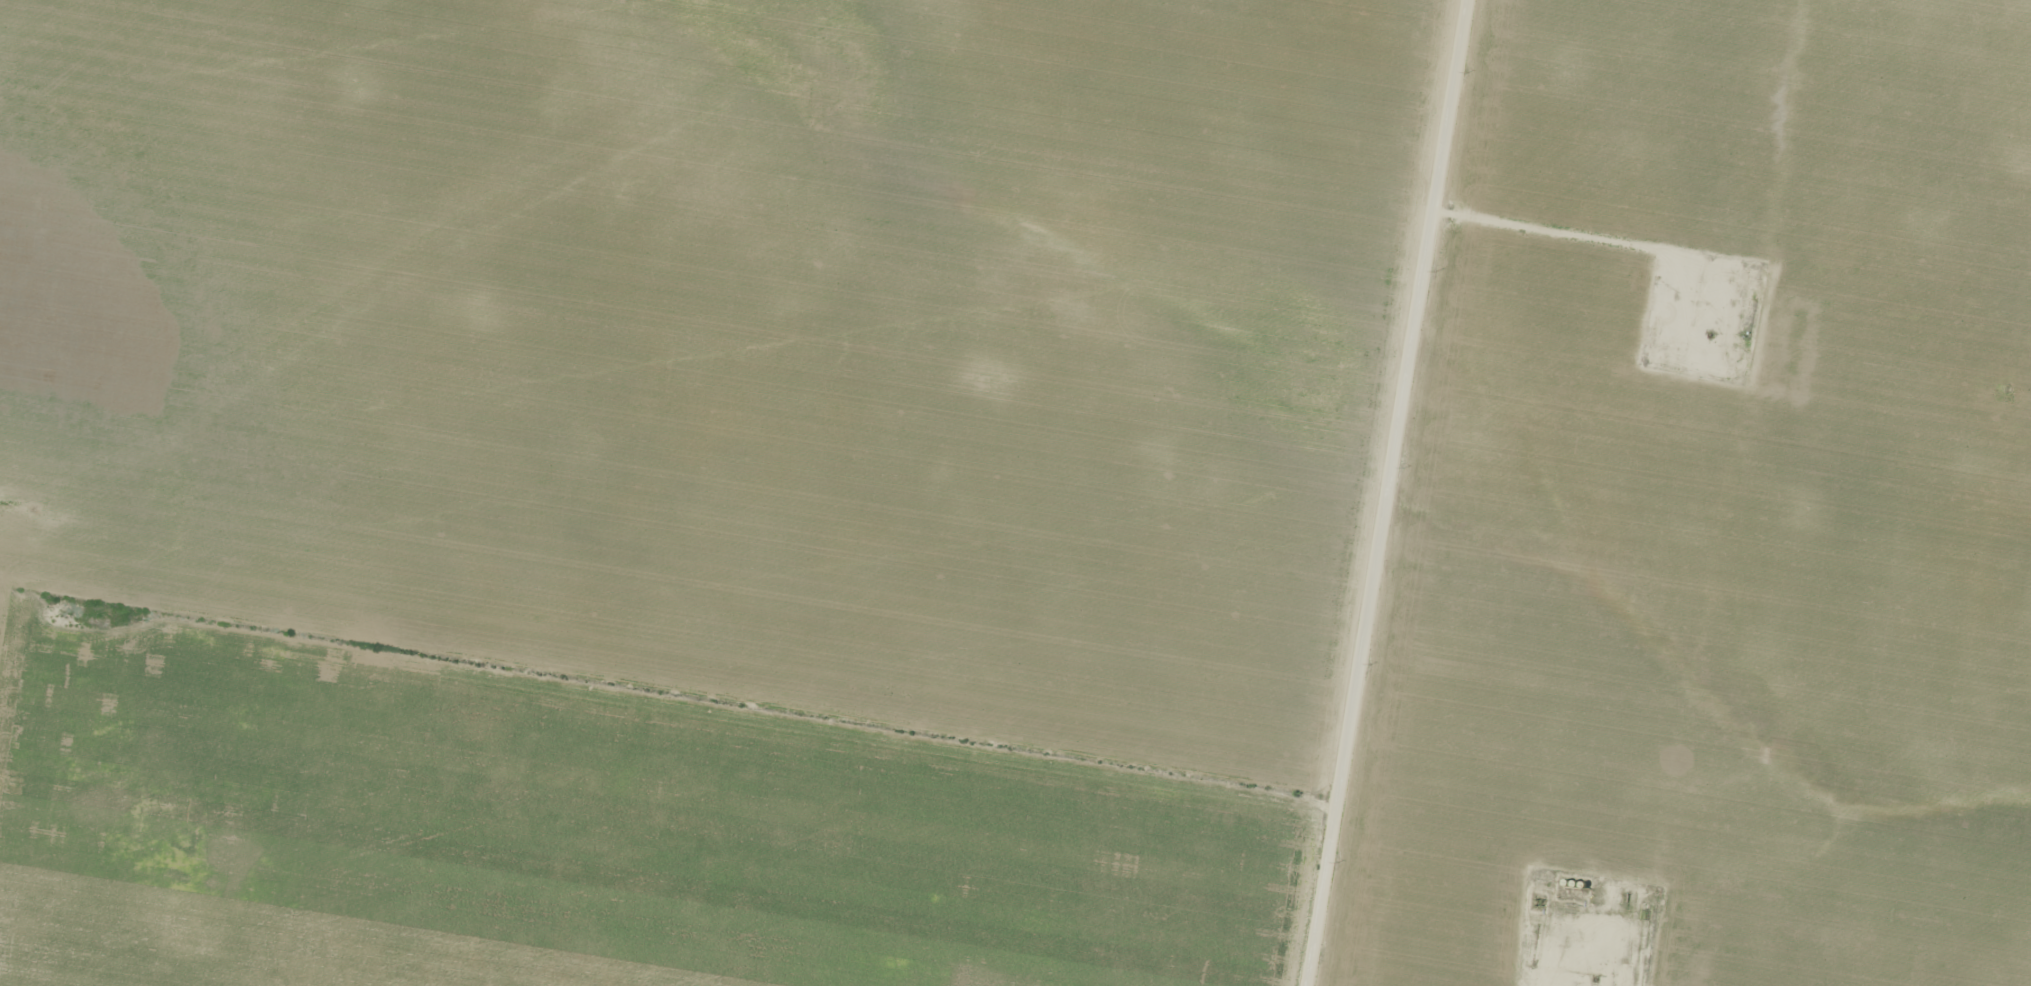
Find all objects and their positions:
road: (1716, 375)
road: (1373, 493)
road: (661, 693)

